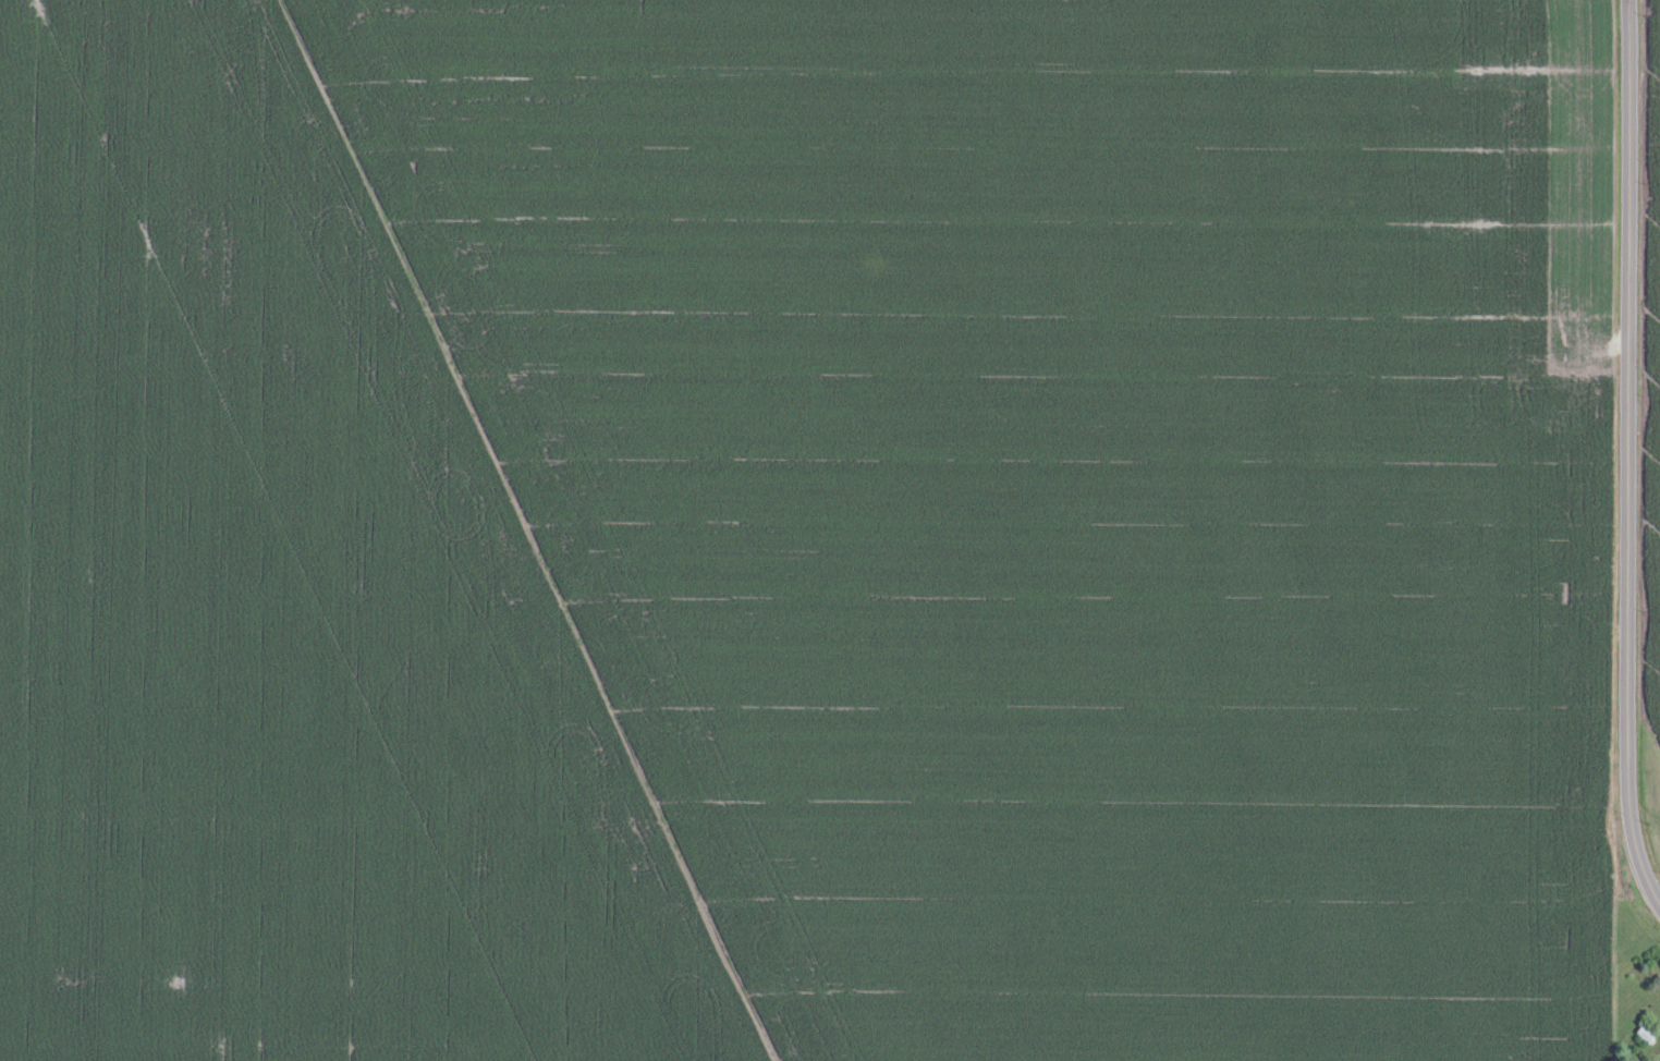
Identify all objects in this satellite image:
road: (1627, 455)

